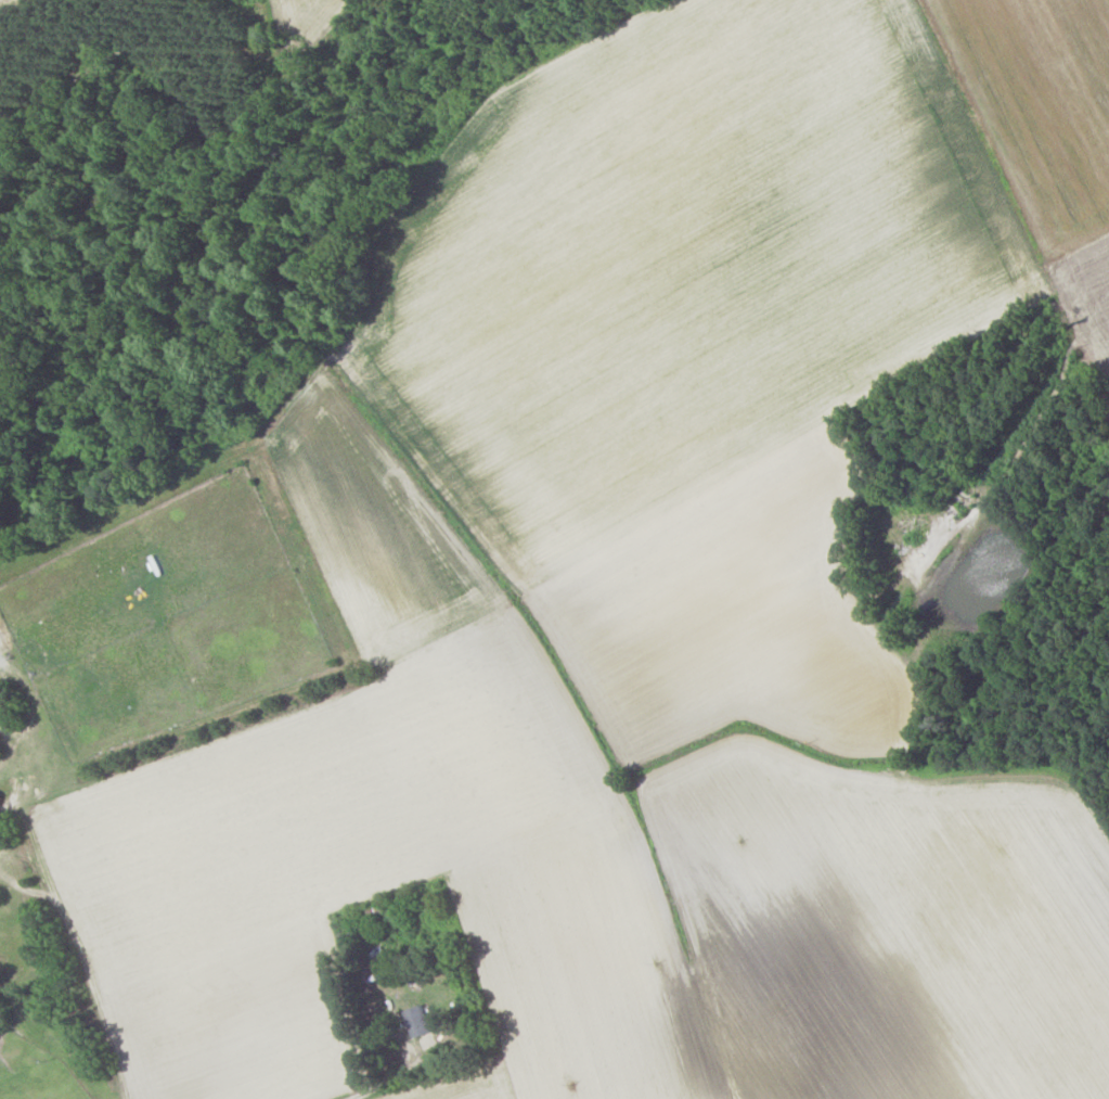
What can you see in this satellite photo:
road: (67, 955)
building: (415, 1019)
road: (383, 1083)

